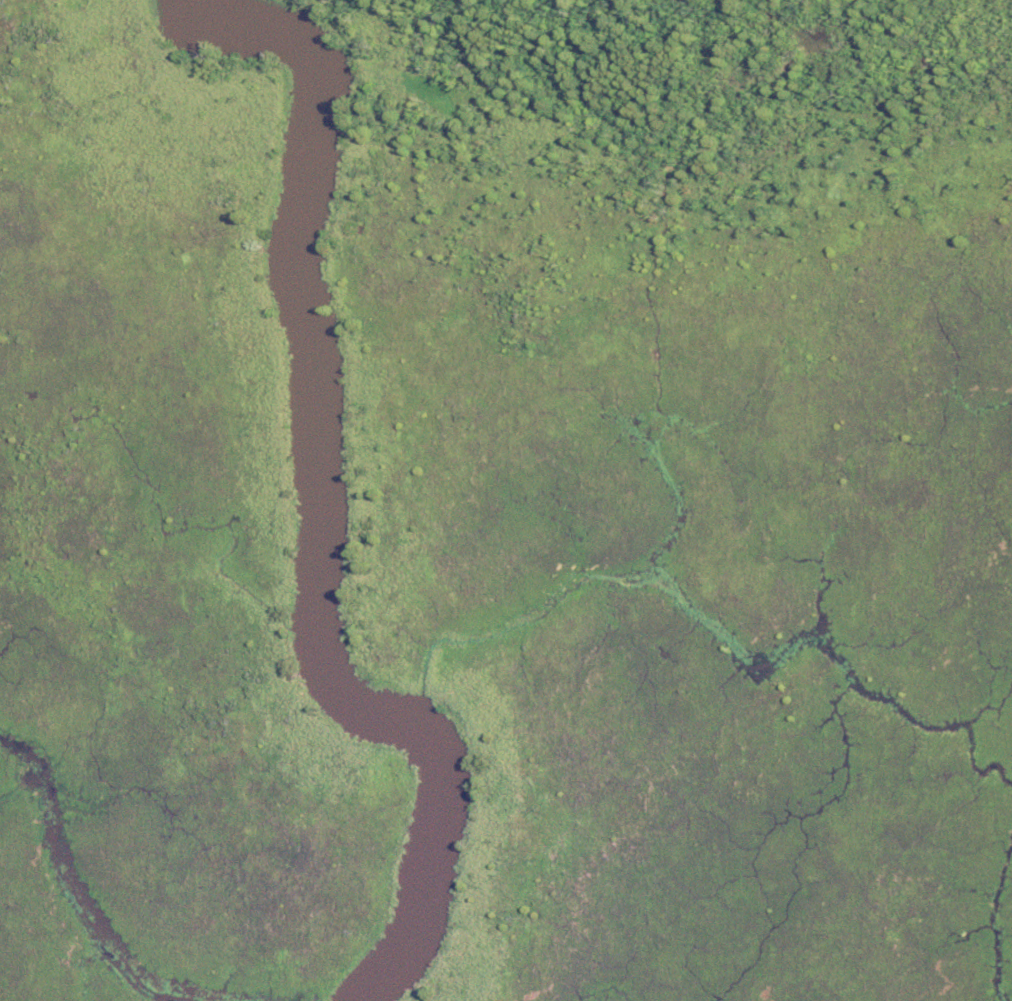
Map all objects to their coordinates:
river: (321, 497)

